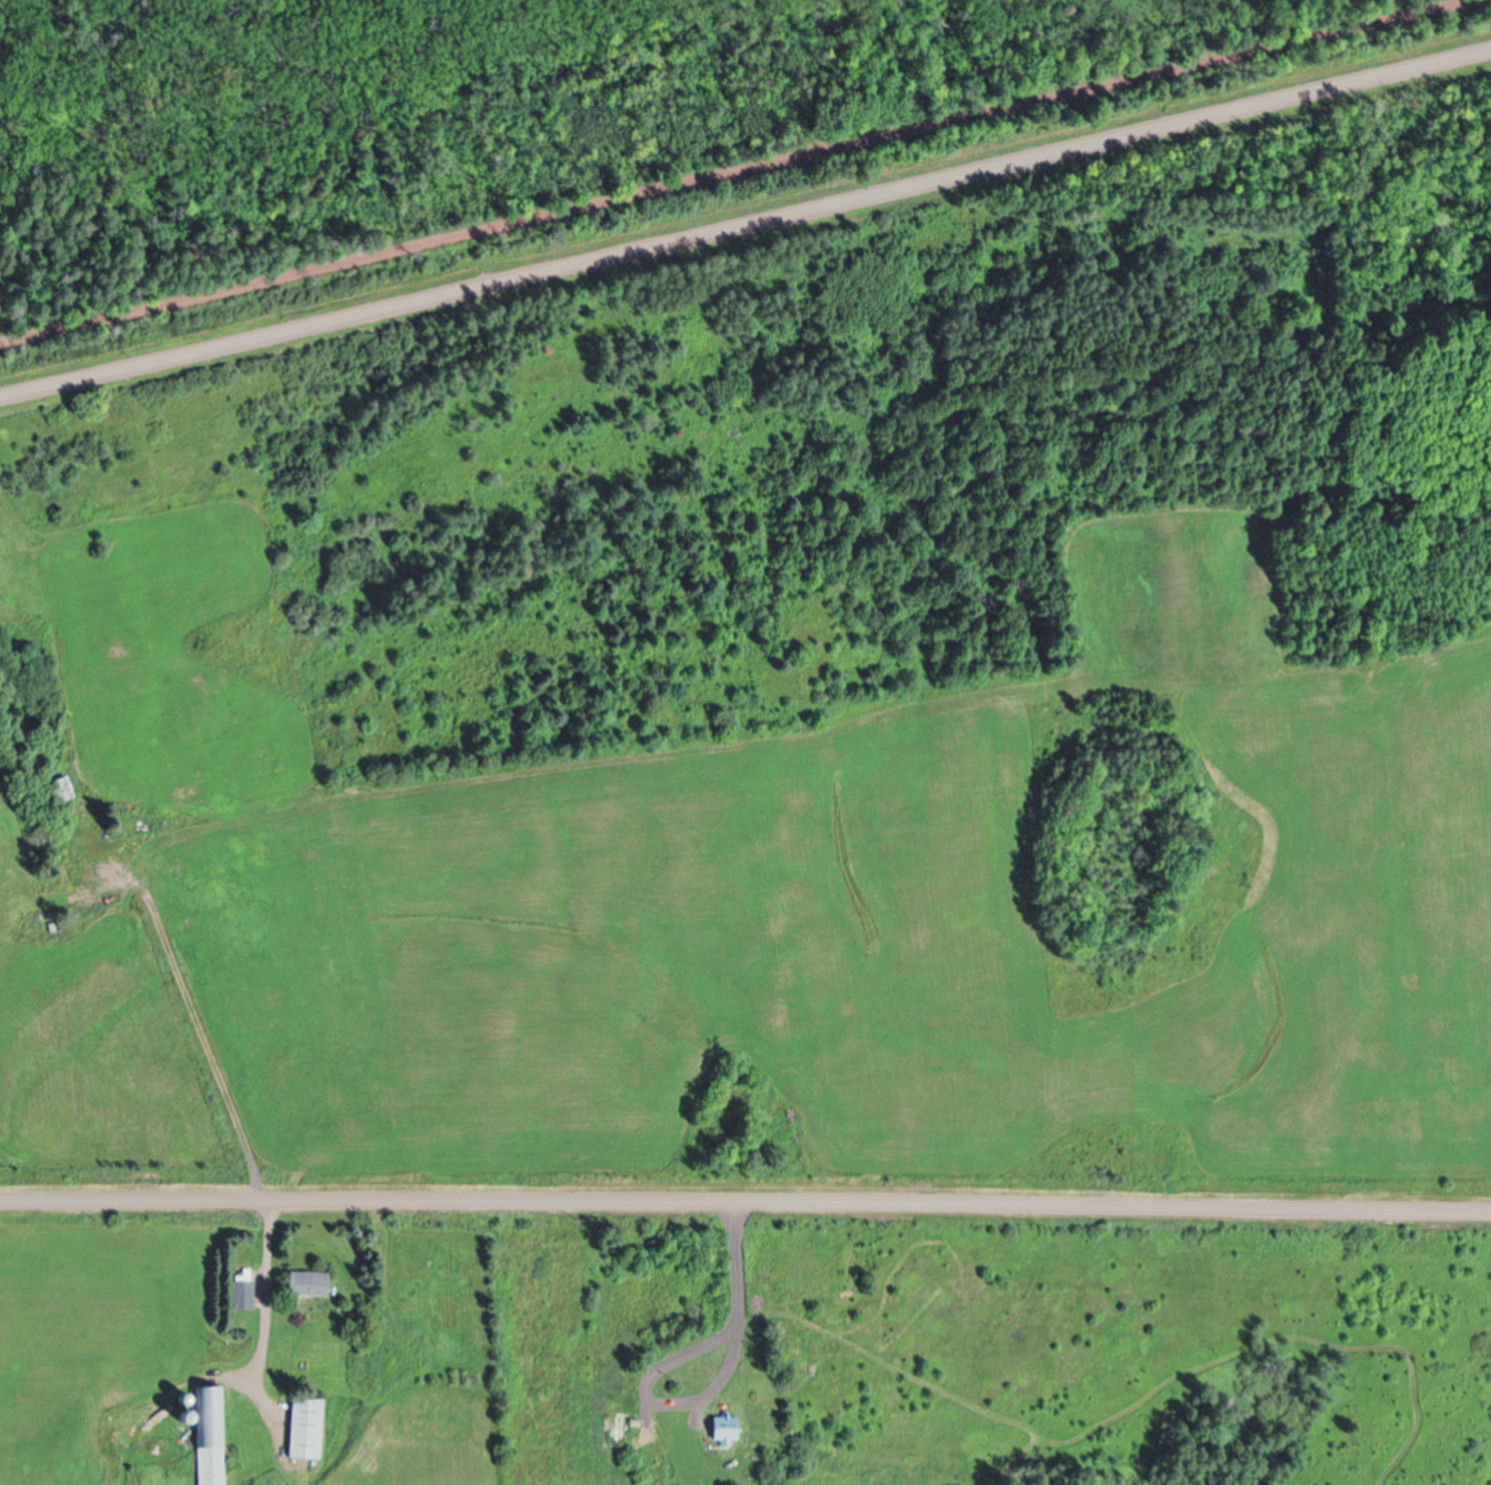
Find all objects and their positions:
road: (745, 173)
road: (745, 224)
building: (59, 791)
road: (199, 1028)
road: (745, 1205)
building: (307, 1286)
building: (242, 1295)
road: (267, 1308)
road: (740, 1313)
building: (725, 1431)
building: (304, 1432)
building: (209, 1437)

